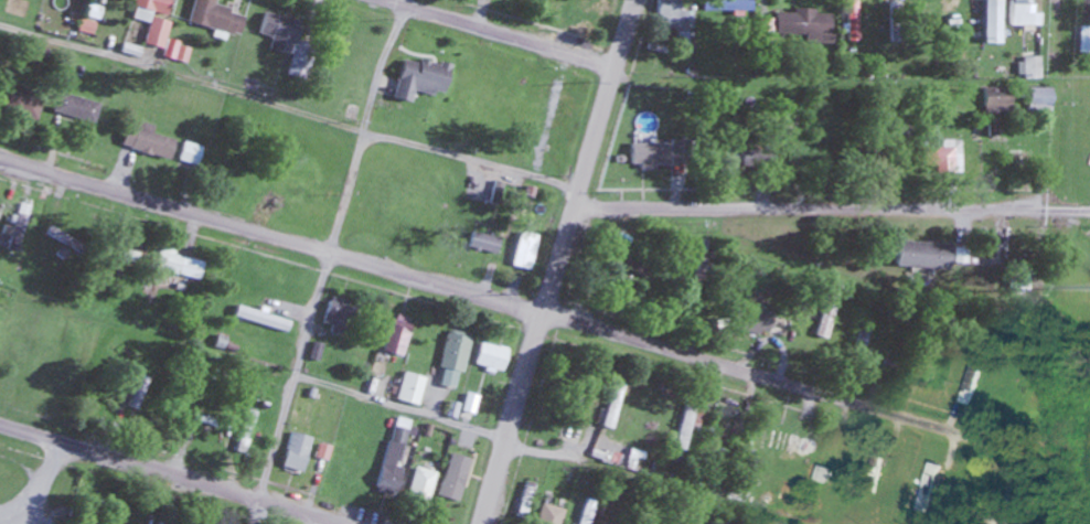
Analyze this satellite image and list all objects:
building: (728, 12)
building: (590, 14)
building: (1016, 14)
building: (217, 17)
building: (154, 18)
building: (671, 18)
building: (849, 20)
building: (987, 22)
building: (799, 24)
road: (622, 33)
road: (503, 34)
building: (1082, 41)
building: (292, 45)
building: (387, 79)
building: (1034, 100)
building: (23, 104)
building: (76, 108)
building: (520, 110)
building: (558, 110)
road: (288, 114)
building: (456, 120)
building: (790, 120)
building: (893, 131)
building: (152, 141)
building: (192, 153)
building: (943, 153)
building: (645, 154)
building: (741, 156)
building: (488, 185)
road: (578, 189)
road: (831, 206)
building: (15, 232)
building: (482, 244)
building: (62, 245)
building: (520, 252)
building: (920, 256)
road: (327, 260)
building: (181, 266)
building: (697, 276)
building: (1017, 282)
road: (498, 299)
building: (824, 312)
building: (339, 314)
building: (261, 320)
building: (750, 322)
building: (397, 334)
building: (862, 341)
building: (886, 347)
building: (449, 354)
building: (487, 357)
building: (968, 381)
building: (413, 389)
building: (608, 406)
road: (513, 418)
building: (682, 429)
building: (244, 431)
building: (781, 445)
road: (514, 451)
building: (298, 452)
road: (174, 472)
building: (359, 473)
building: (821, 474)
building: (389, 480)
building: (421, 486)
building: (926, 488)
building: (525, 501)
building: (88, 506)
building: (551, 515)
building: (716, 518)

